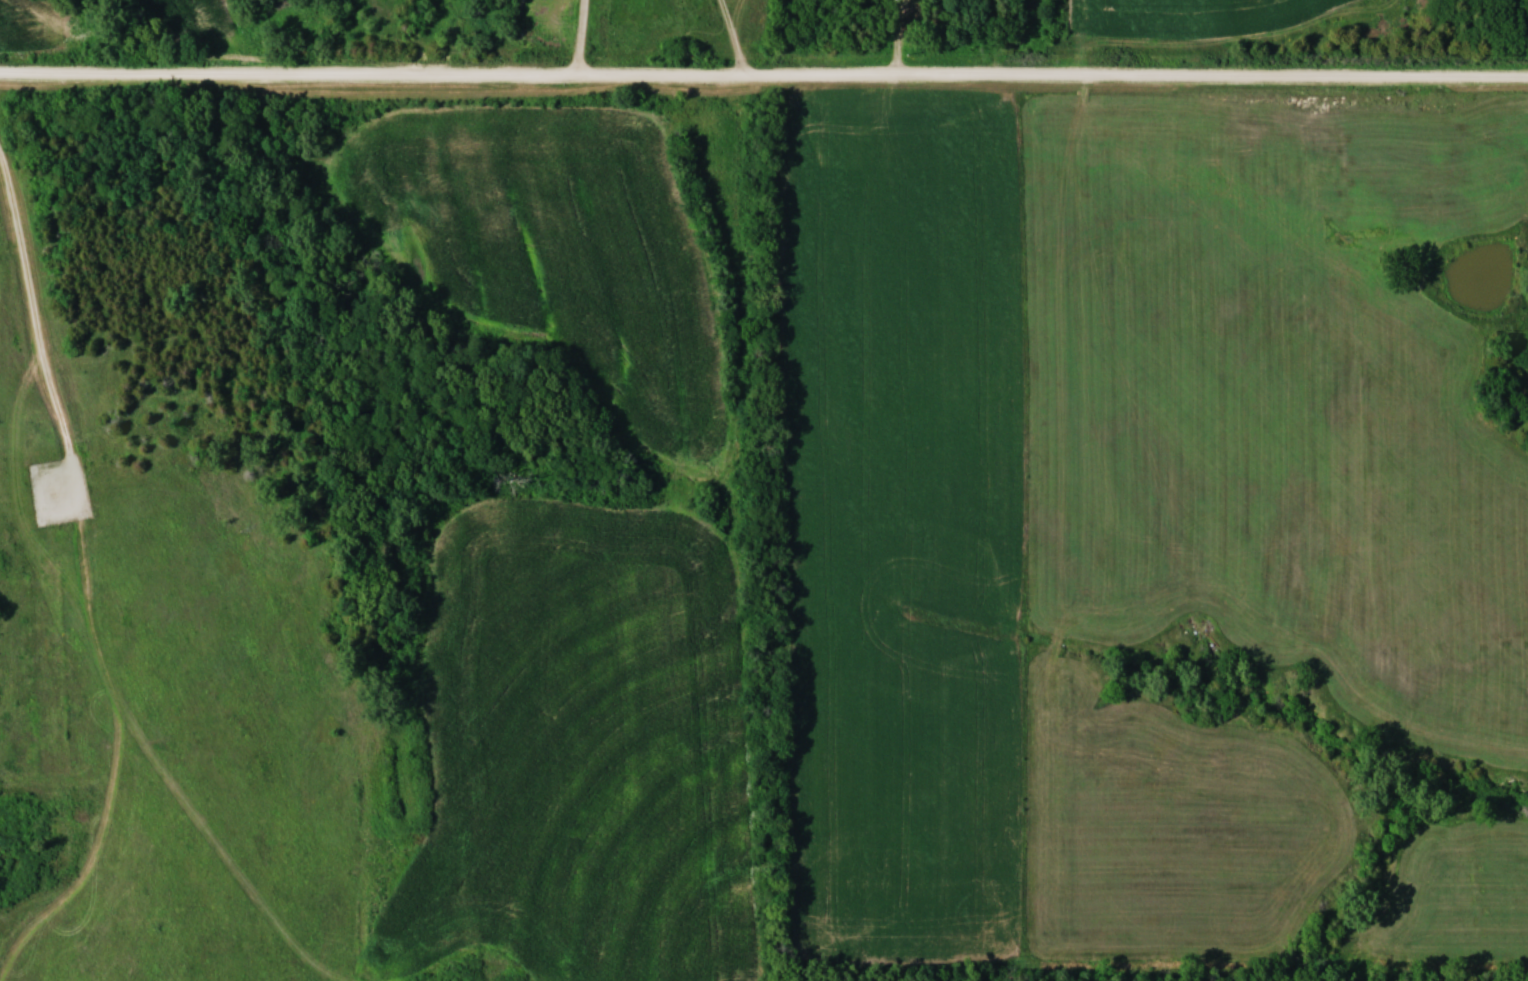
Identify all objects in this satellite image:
road: (584, 39)
road: (998, 39)
road: (387, 79)
road: (1152, 79)
road: (38, 324)

